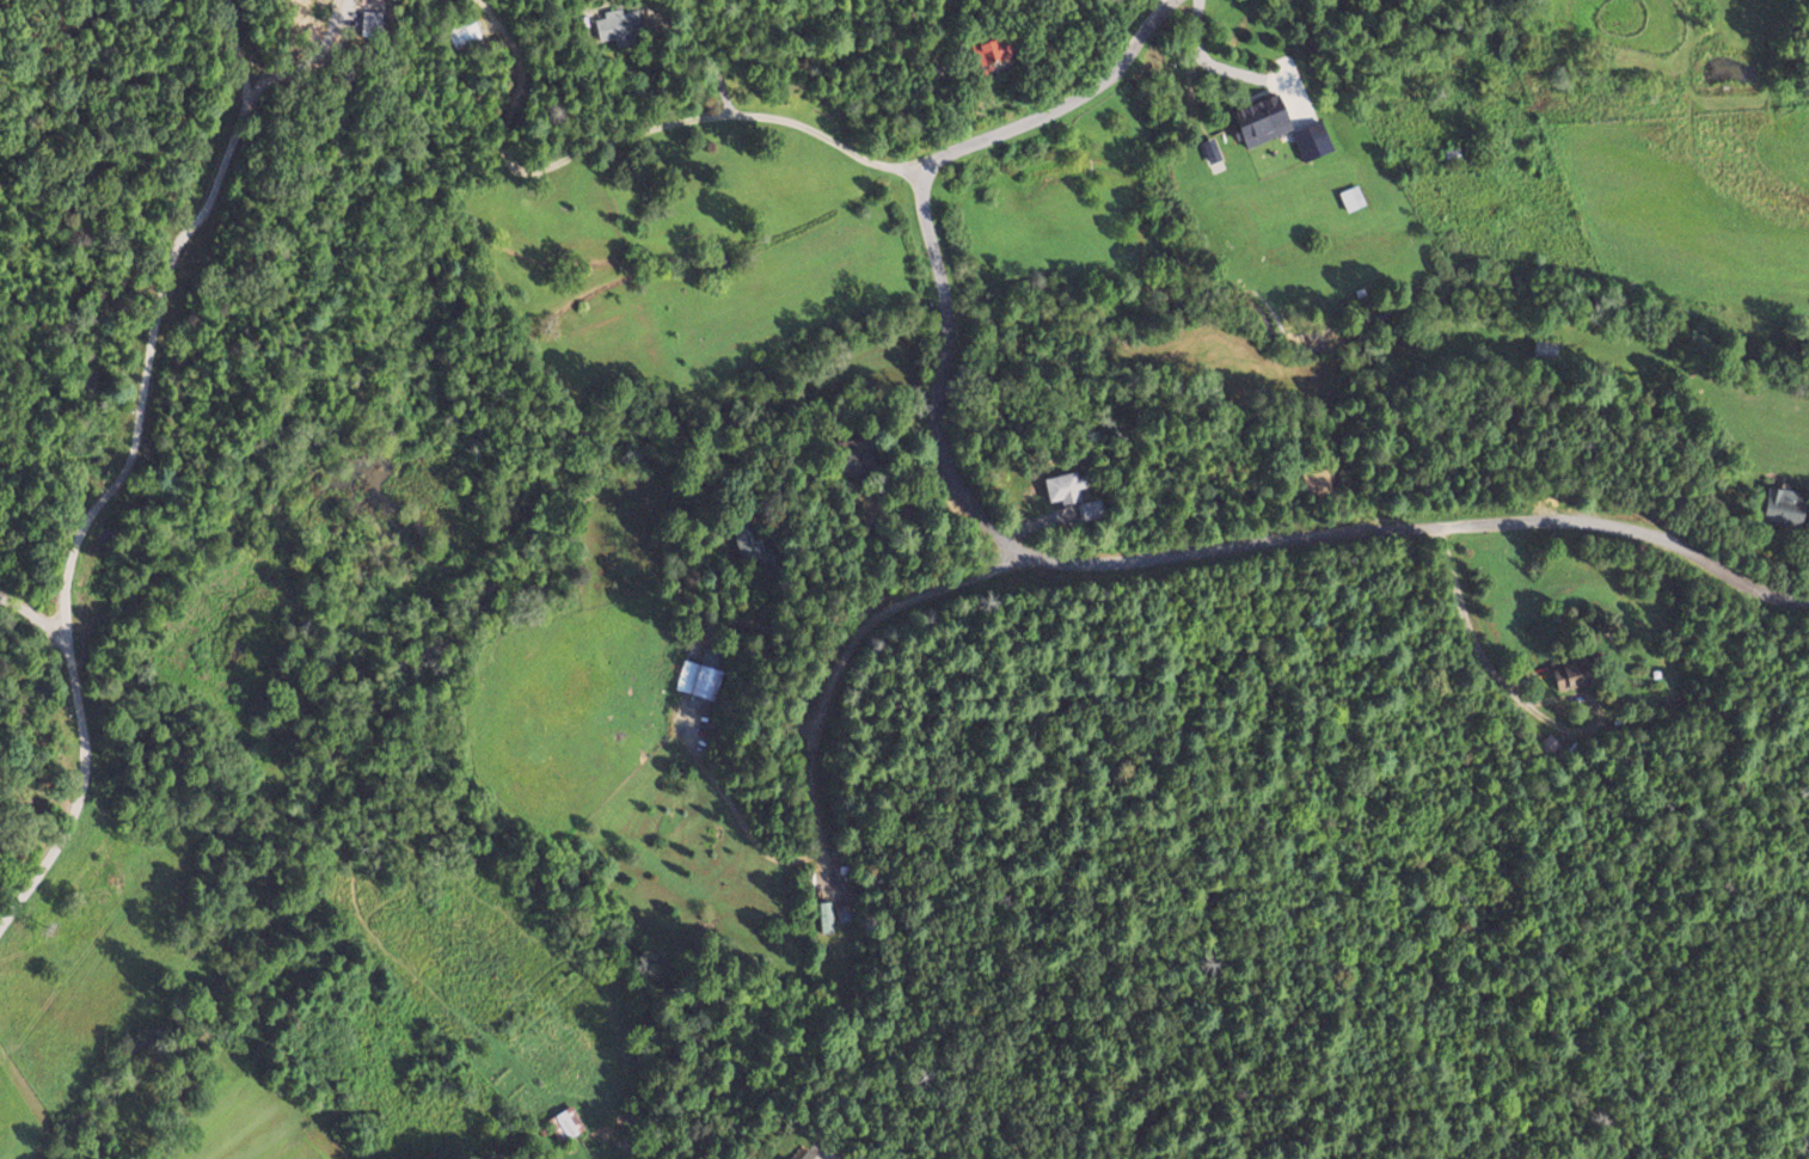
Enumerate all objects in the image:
road: (1158, 17)
building: (615, 25)
building: (464, 37)
building: (1011, 51)
road: (736, 115)
road: (1040, 115)
building: (1280, 128)
building: (1452, 157)
building: (1543, 351)
building: (852, 459)
building: (1784, 507)
road: (1219, 545)
building: (747, 547)
building: (1571, 673)
building: (698, 680)
road: (816, 699)
building: (842, 914)
building: (824, 921)
building: (564, 1126)
building: (808, 1155)

